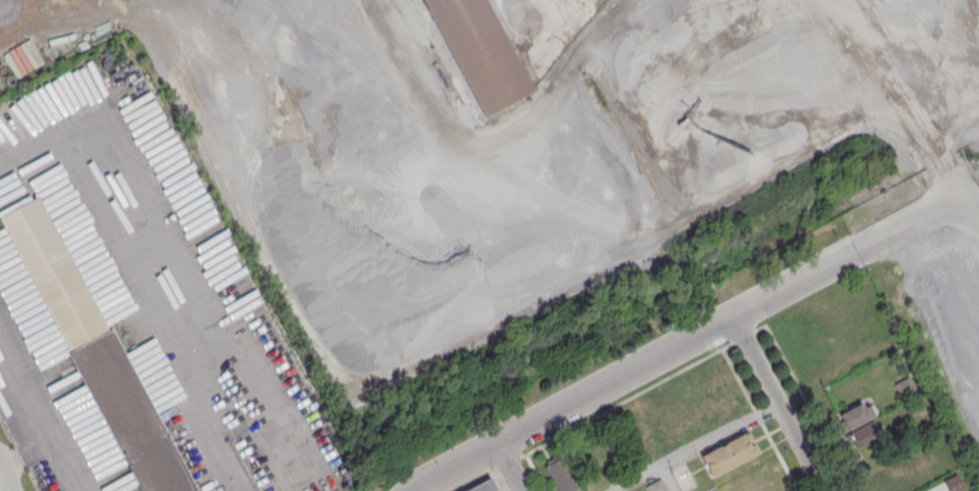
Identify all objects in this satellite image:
building: (470, 54)
road: (961, 200)
road: (900, 228)
road: (151, 273)
building: (917, 323)
building: (95, 351)
road: (700, 359)
road: (634, 369)
road: (777, 404)
road: (37, 416)
building: (859, 425)
road: (701, 449)
building: (729, 454)
road: (74, 459)
road: (507, 467)
building: (560, 475)
road: (667, 480)
road: (4, 481)
building: (656, 486)
building: (484, 487)

